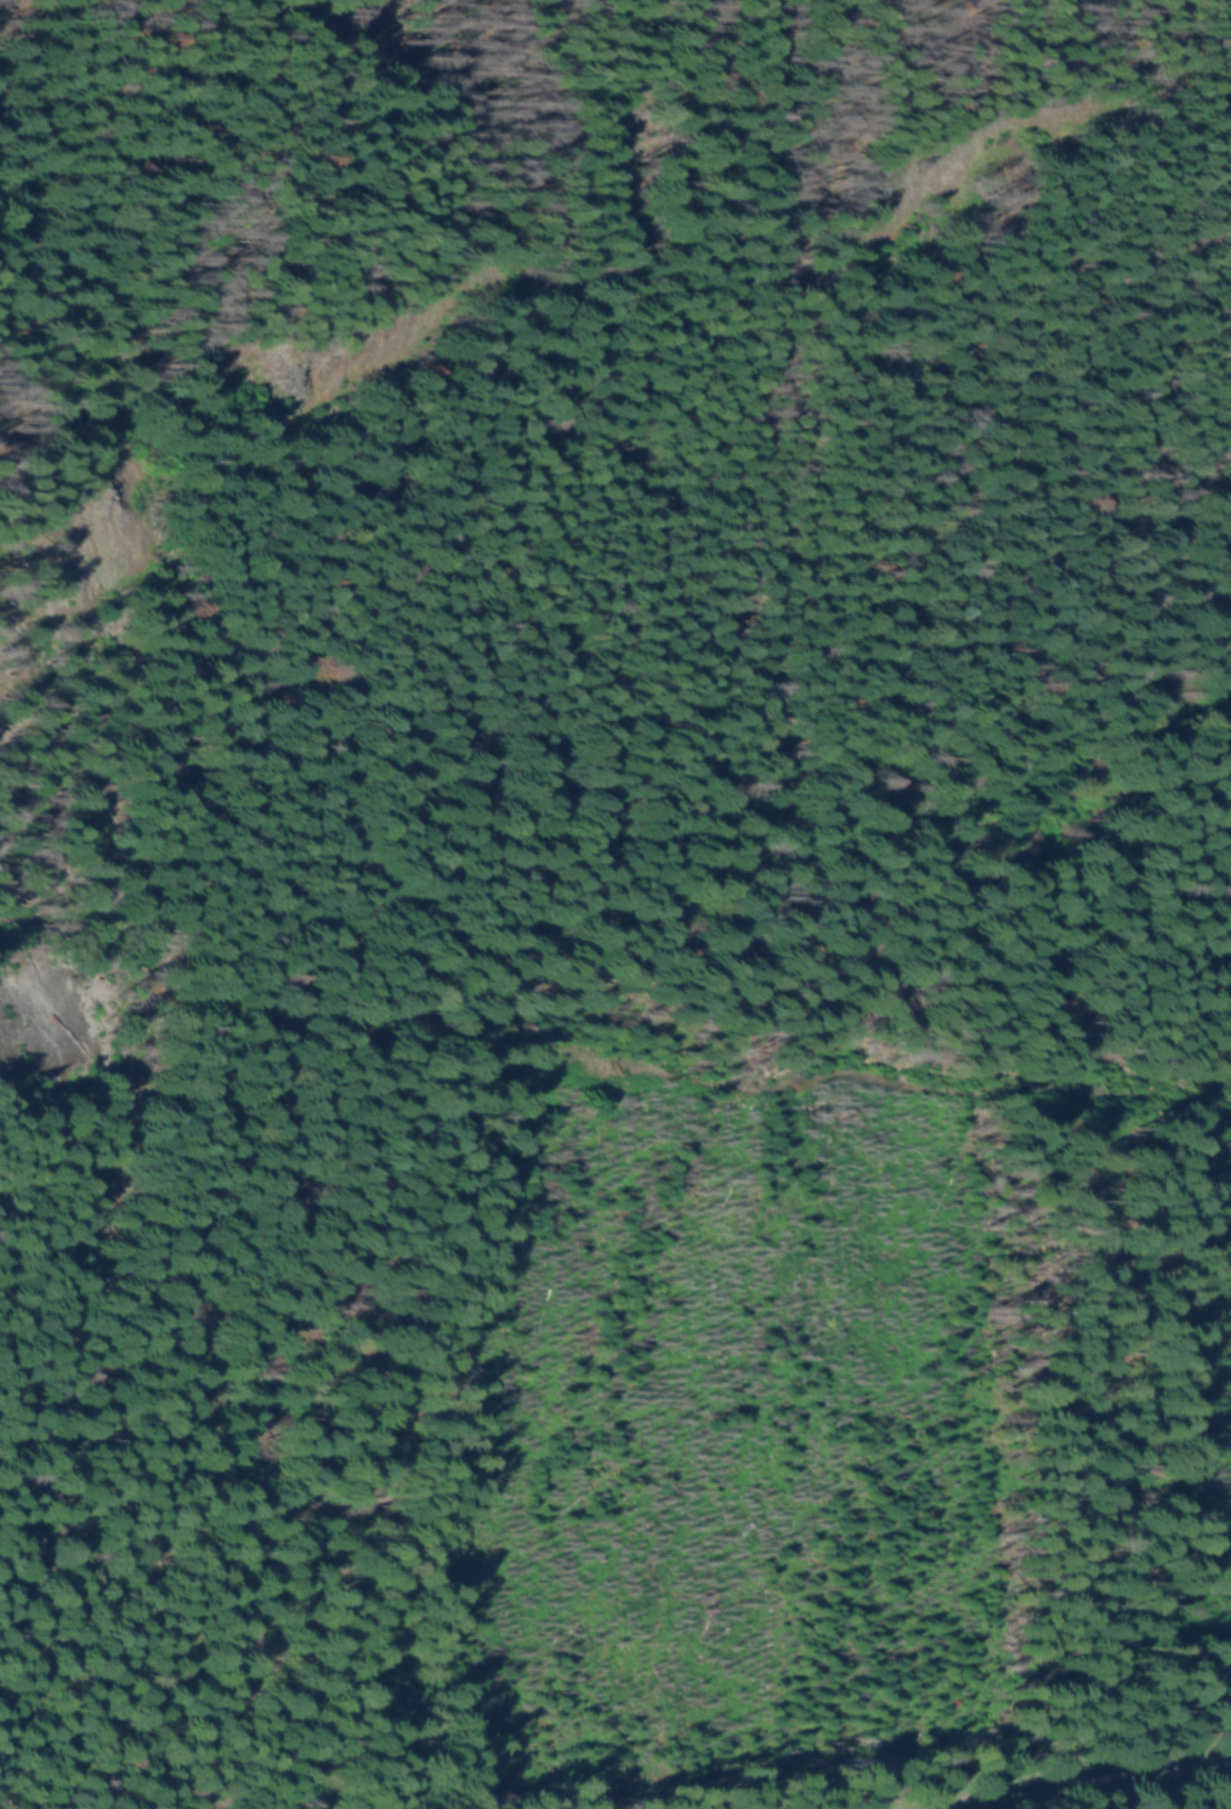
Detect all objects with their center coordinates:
road: (1084, 1779)

